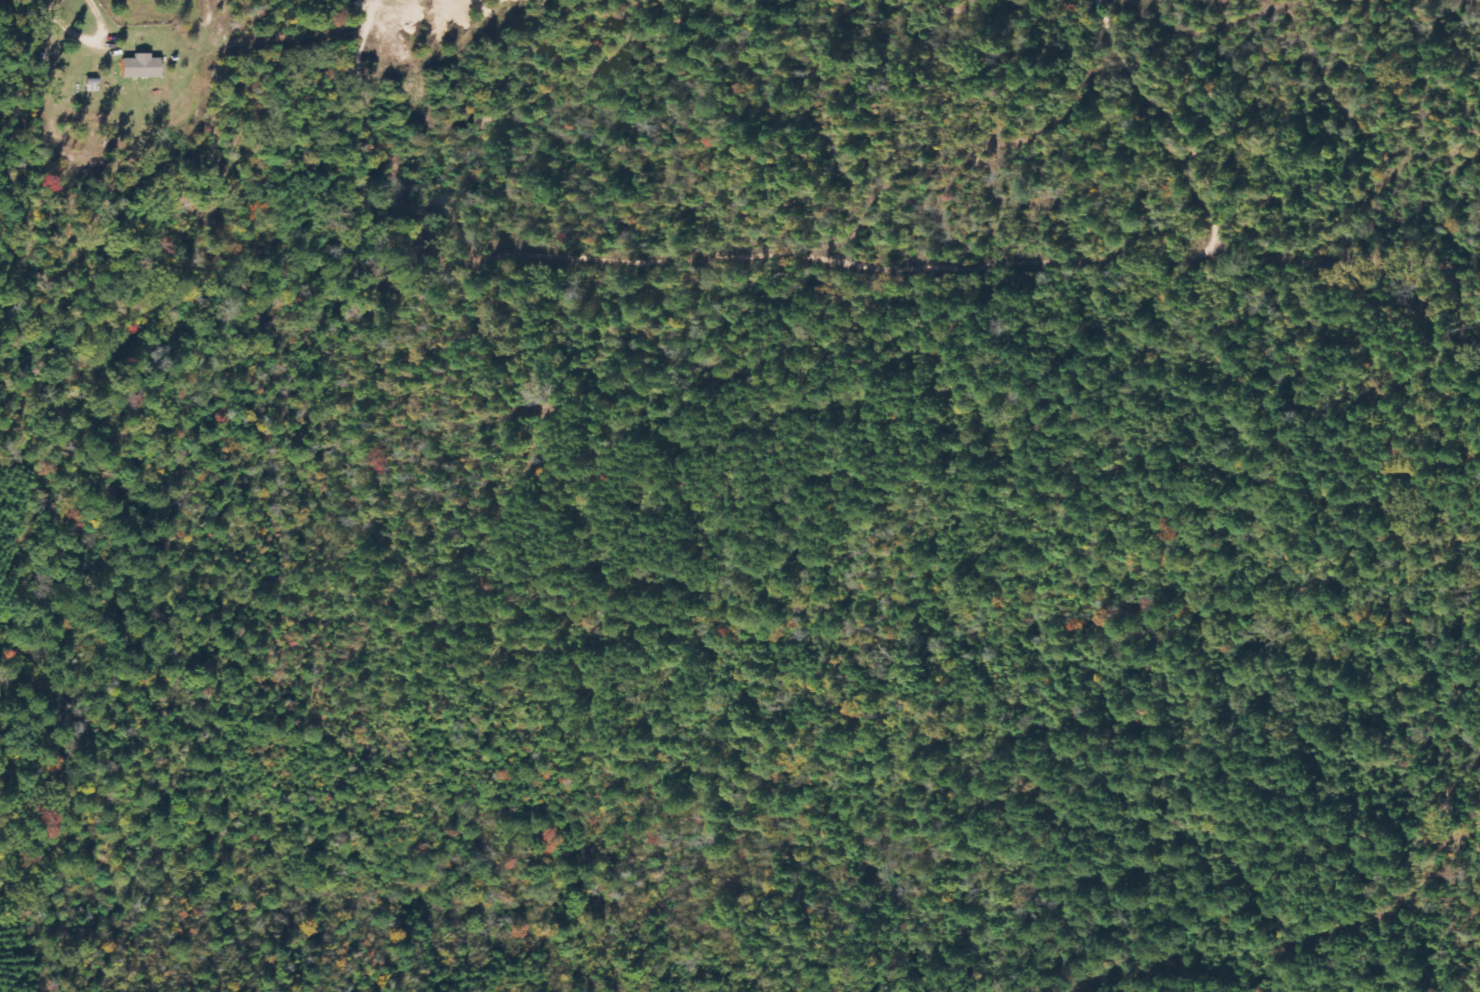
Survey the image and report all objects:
building: (138, 69)
road: (1212, 427)

